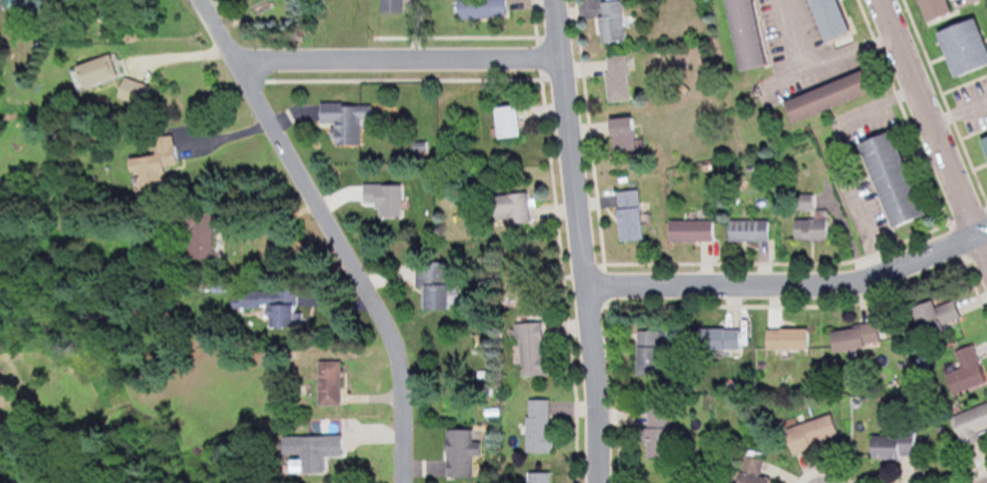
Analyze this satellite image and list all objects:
building: (12, 3)
building: (388, 6)
building: (479, 8)
building: (927, 9)
building: (823, 18)
building: (608, 21)
building: (741, 34)
building: (960, 48)
road: (398, 61)
building: (89, 73)
building: (614, 79)
building: (827, 95)
road: (931, 117)
building: (502, 123)
building: (342, 125)
building: (618, 135)
road: (568, 144)
building: (983, 149)
building: (151, 168)
building: (887, 180)
building: (507, 209)
building: (626, 216)
building: (807, 230)
road: (336, 231)
building: (687, 231)
building: (745, 231)
building: (186, 232)
road: (983, 233)
road: (983, 245)
building: (429, 286)
road: (785, 290)
building: (276, 317)
building: (932, 317)
building: (851, 338)
building: (714, 339)
building: (784, 339)
building: (528, 350)
building: (646, 353)
building: (963, 371)
building: (325, 384)
road: (585, 386)
building: (968, 424)
building: (534, 427)
building: (652, 433)
building: (809, 434)
building: (891, 446)
building: (305, 453)
building: (457, 453)
building: (749, 471)
building: (536, 478)

